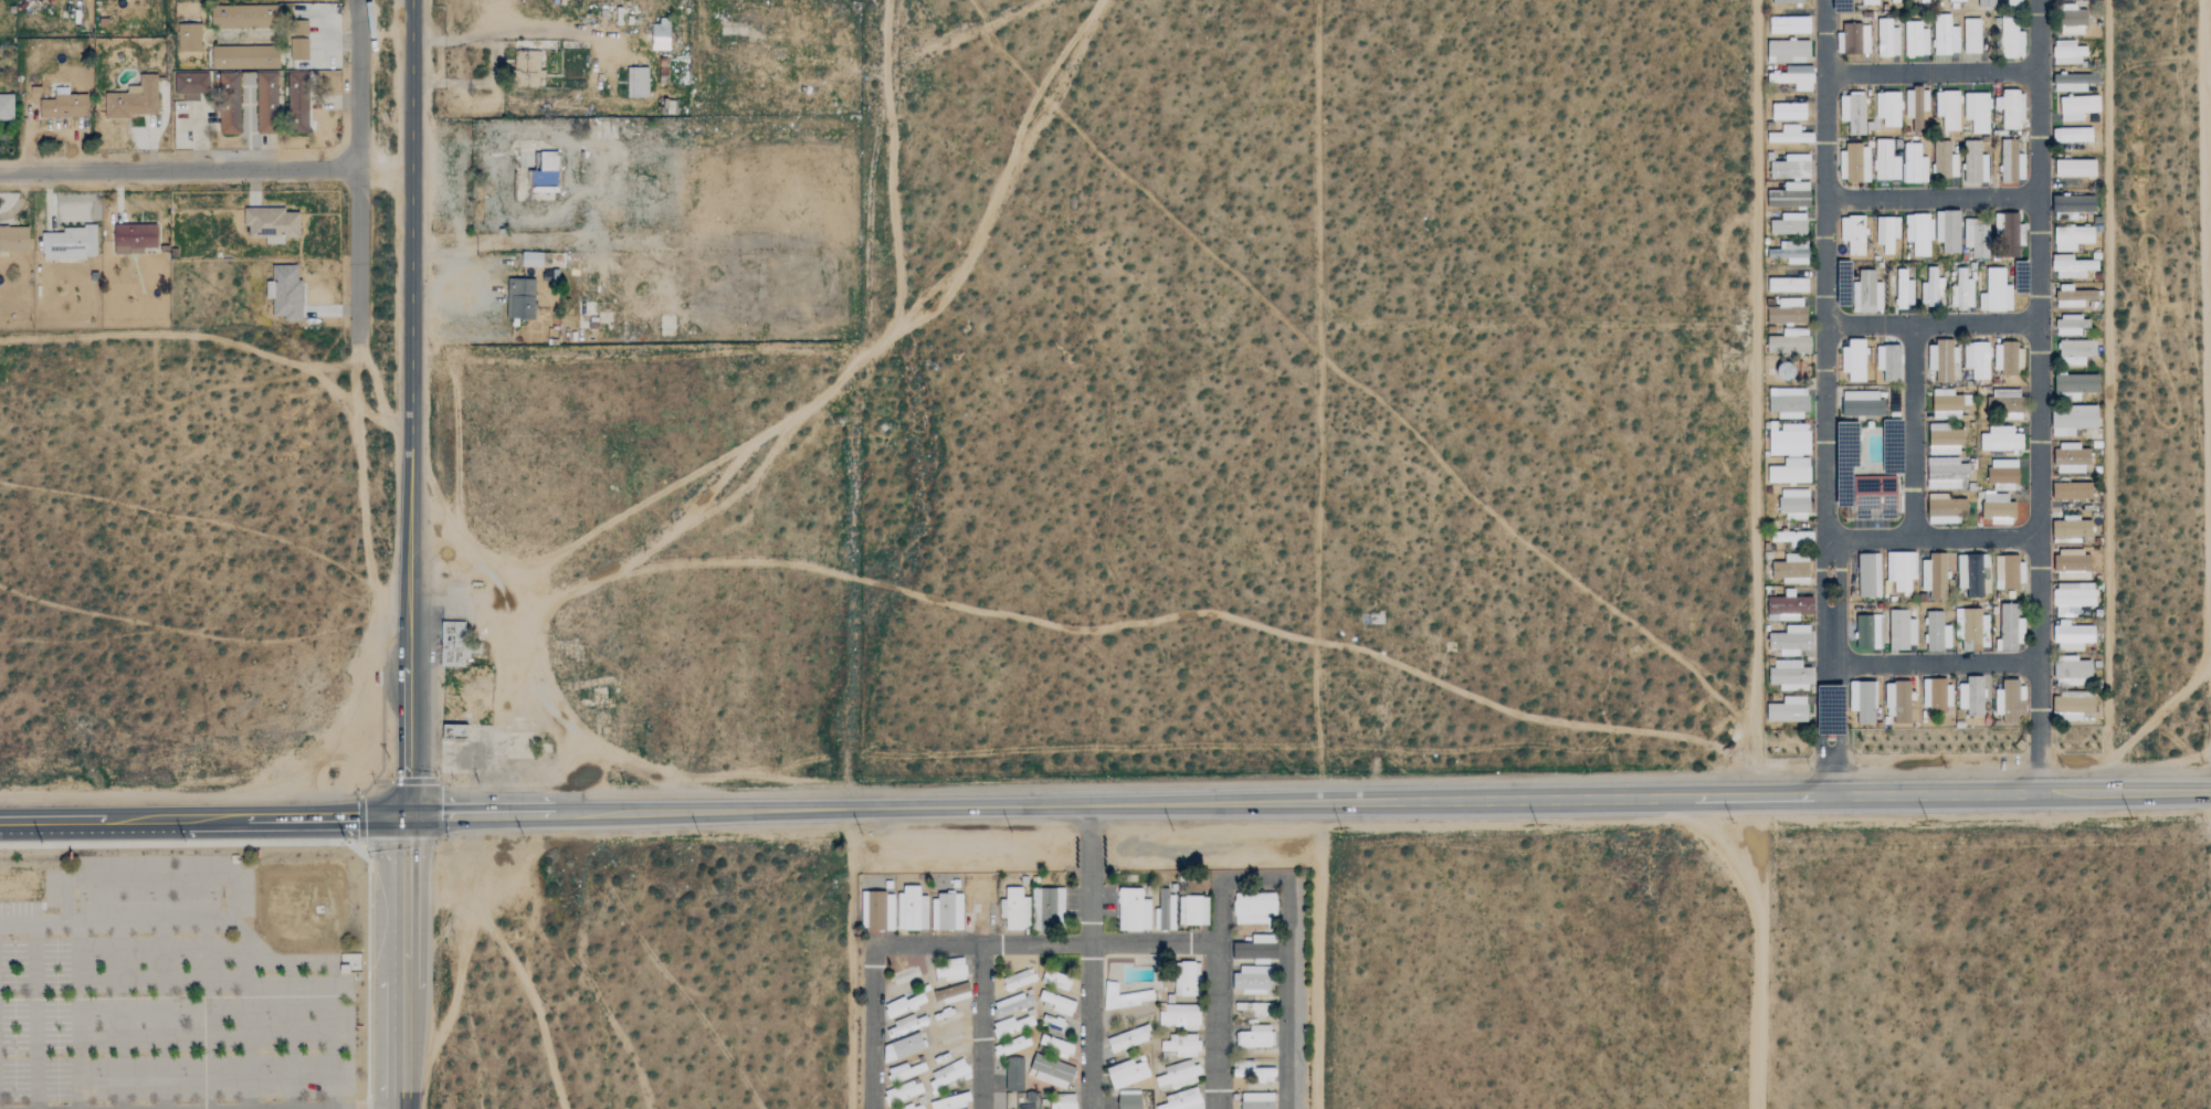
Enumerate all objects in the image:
building: (1789, 1)
building: (1893, 1)
building: (1925, 1)
building: (1957, 1)
building: (1868, 2)
building: (2014, 2)
building: (1987, 3)
building: (245, 17)
building: (2074, 22)
building: (1789, 25)
road: (533, 34)
building: (660, 35)
building: (1946, 35)
building: (1972, 36)
building: (190, 38)
building: (1853, 39)
building: (1887, 39)
building: (2012, 39)
building: (1916, 40)
road: (337, 43)
building: (299, 50)
building: (1788, 50)
building: (2068, 53)
building: (245, 57)
building: (529, 68)
road: (1933, 71)
building: (1794, 77)
building: (2074, 82)
building: (229, 83)
building: (638, 83)
road: (476, 84)
building: (189, 85)
building: (31, 92)
building: (298, 96)
building: (133, 97)
building: (267, 103)
building: (64, 105)
building: (6, 106)
building: (1917, 106)
building: (2078, 107)
building: (1889, 109)
building: (1949, 109)
building: (2012, 110)
building: (1788, 112)
building: (1978, 112)
building: (1855, 114)
building: (230, 122)
building: (2072, 135)
building: (1790, 136)
building: (1945, 160)
building: (1886, 161)
building: (1855, 163)
building: (1976, 163)
building: (1915, 165)
road: (179, 168)
building: (540, 168)
building: (1791, 168)
building: (2013, 168)
building: (2075, 168)
road: (358, 170)
building: (1791, 196)
road: (1933, 196)
building: (2074, 204)
building: (1790, 223)
building: (272, 224)
building: (1947, 230)
building: (1886, 232)
building: (1918, 233)
building: (1854, 234)
building: (1976, 236)
building: (2072, 236)
building: (134, 237)
building: (13, 239)
building: (70, 242)
building: (1792, 252)
road: (2208, 255)
building: (536, 258)
building: (2072, 266)
building: (1788, 284)
building: (1903, 288)
building: (1931, 288)
building: (1961, 291)
building: (1996, 291)
building: (285, 292)
building: (1866, 292)
building: (2063, 296)
building: (520, 298)
building: (1788, 310)
road: (1872, 324)
building: (2073, 324)
building: (1790, 341)
building: (2077, 351)
building: (2008, 358)
building: (1854, 359)
building: (1942, 359)
building: (1976, 359)
building: (1889, 361)
road: (1914, 368)
building: (2077, 384)
road: (378, 393)
road: (2039, 397)
road: (1829, 398)
building: (1789, 401)
building: (1947, 404)
road: (411, 408)
building: (1864, 408)
building: (2074, 419)
building: (1789, 439)
building: (1945, 440)
building: (2001, 440)
building: (2072, 457)
building: (1790, 471)
building: (1947, 473)
building: (2003, 475)
building: (2073, 489)
building: (1874, 490)
building: (1794, 503)
building: (1948, 508)
building: (2072, 529)
building: (1792, 536)
road: (1934, 536)
building: (2073, 563)
building: (1792, 568)
building: (1902, 569)
building: (2010, 571)
building: (1870, 574)
building: (1935, 575)
building: (1975, 575)
building: (2074, 596)
building: (1789, 606)
building: (1973, 627)
building: (2010, 629)
building: (1903, 630)
building: (1870, 631)
building: (1938, 632)
building: (2073, 636)
building: (1792, 640)
building: (456, 643)
road: (1935, 663)
building: (2072, 670)
building: (1791, 675)
building: (1971, 696)
building: (2011, 699)
building: (1863, 700)
building: (1898, 701)
building: (2074, 706)
building: (1789, 709)
building: (455, 732)
road: (1307, 801)
traffic signals: (404, 816)
road: (202, 817)
road: (313, 842)
road: (1088, 874)
building: (1254, 907)
building: (912, 908)
building: (1049, 908)
building: (1014, 910)
building: (1134, 910)
building: (878, 911)
building: (947, 911)
road: (1289, 925)
road: (898, 946)
building: (1257, 949)
road: (1759, 952)
road: (402, 962)
road: (1219, 962)
building: (949, 971)
building: (1189, 979)
building: (1019, 980)
building: (1055, 980)
building: (1253, 980)
parking lot: (164, 991)
building: (951, 994)
building: (1125, 996)
road: (34, 999)
building: (1014, 1003)
building: (1059, 1003)
building: (904, 1004)
building: (1259, 1008)
building: (1180, 1016)
building: (906, 1025)
building: (1012, 1025)
road: (1089, 1026)
road: (981, 1027)
building: (1256, 1036)
building: (1129, 1038)
building: (1012, 1046)
building: (1180, 1046)
building: (903, 1047)
building: (1051, 1070)
building: (906, 1071)
building: (1254, 1071)
building: (1127, 1073)
building: (1179, 1074)
building: (1014, 1075)
building: (948, 1076)
building: (903, 1091)
building: (1134, 1100)
building: (1183, 1100)
building: (1257, 1100)
building: (951, 1101)
building: (1062, 1102)
building: (915, 1106)

